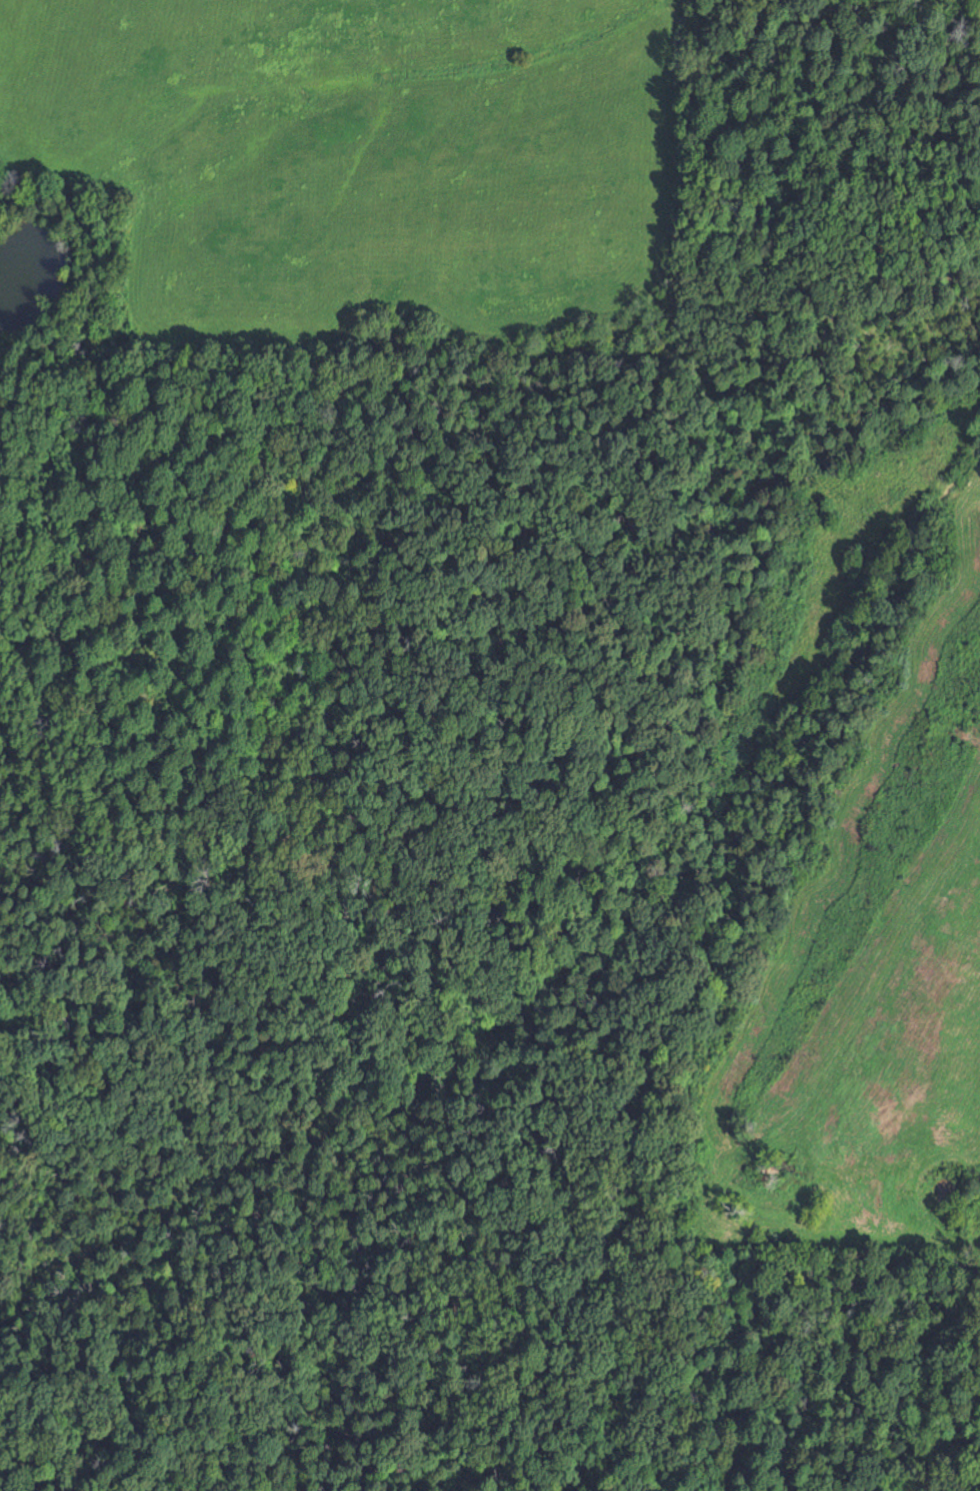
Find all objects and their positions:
building: (771, 1176)

